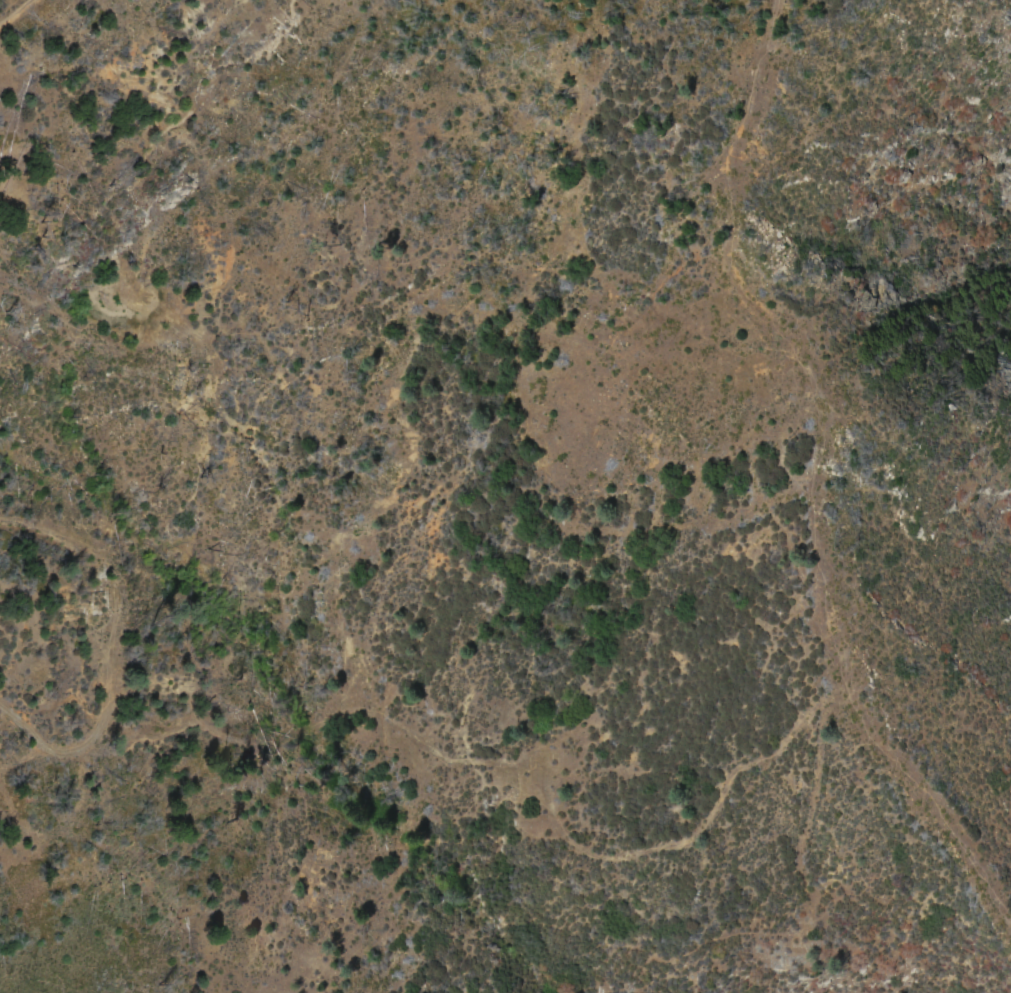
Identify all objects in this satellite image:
road: (29, 389)
road: (70, 439)

